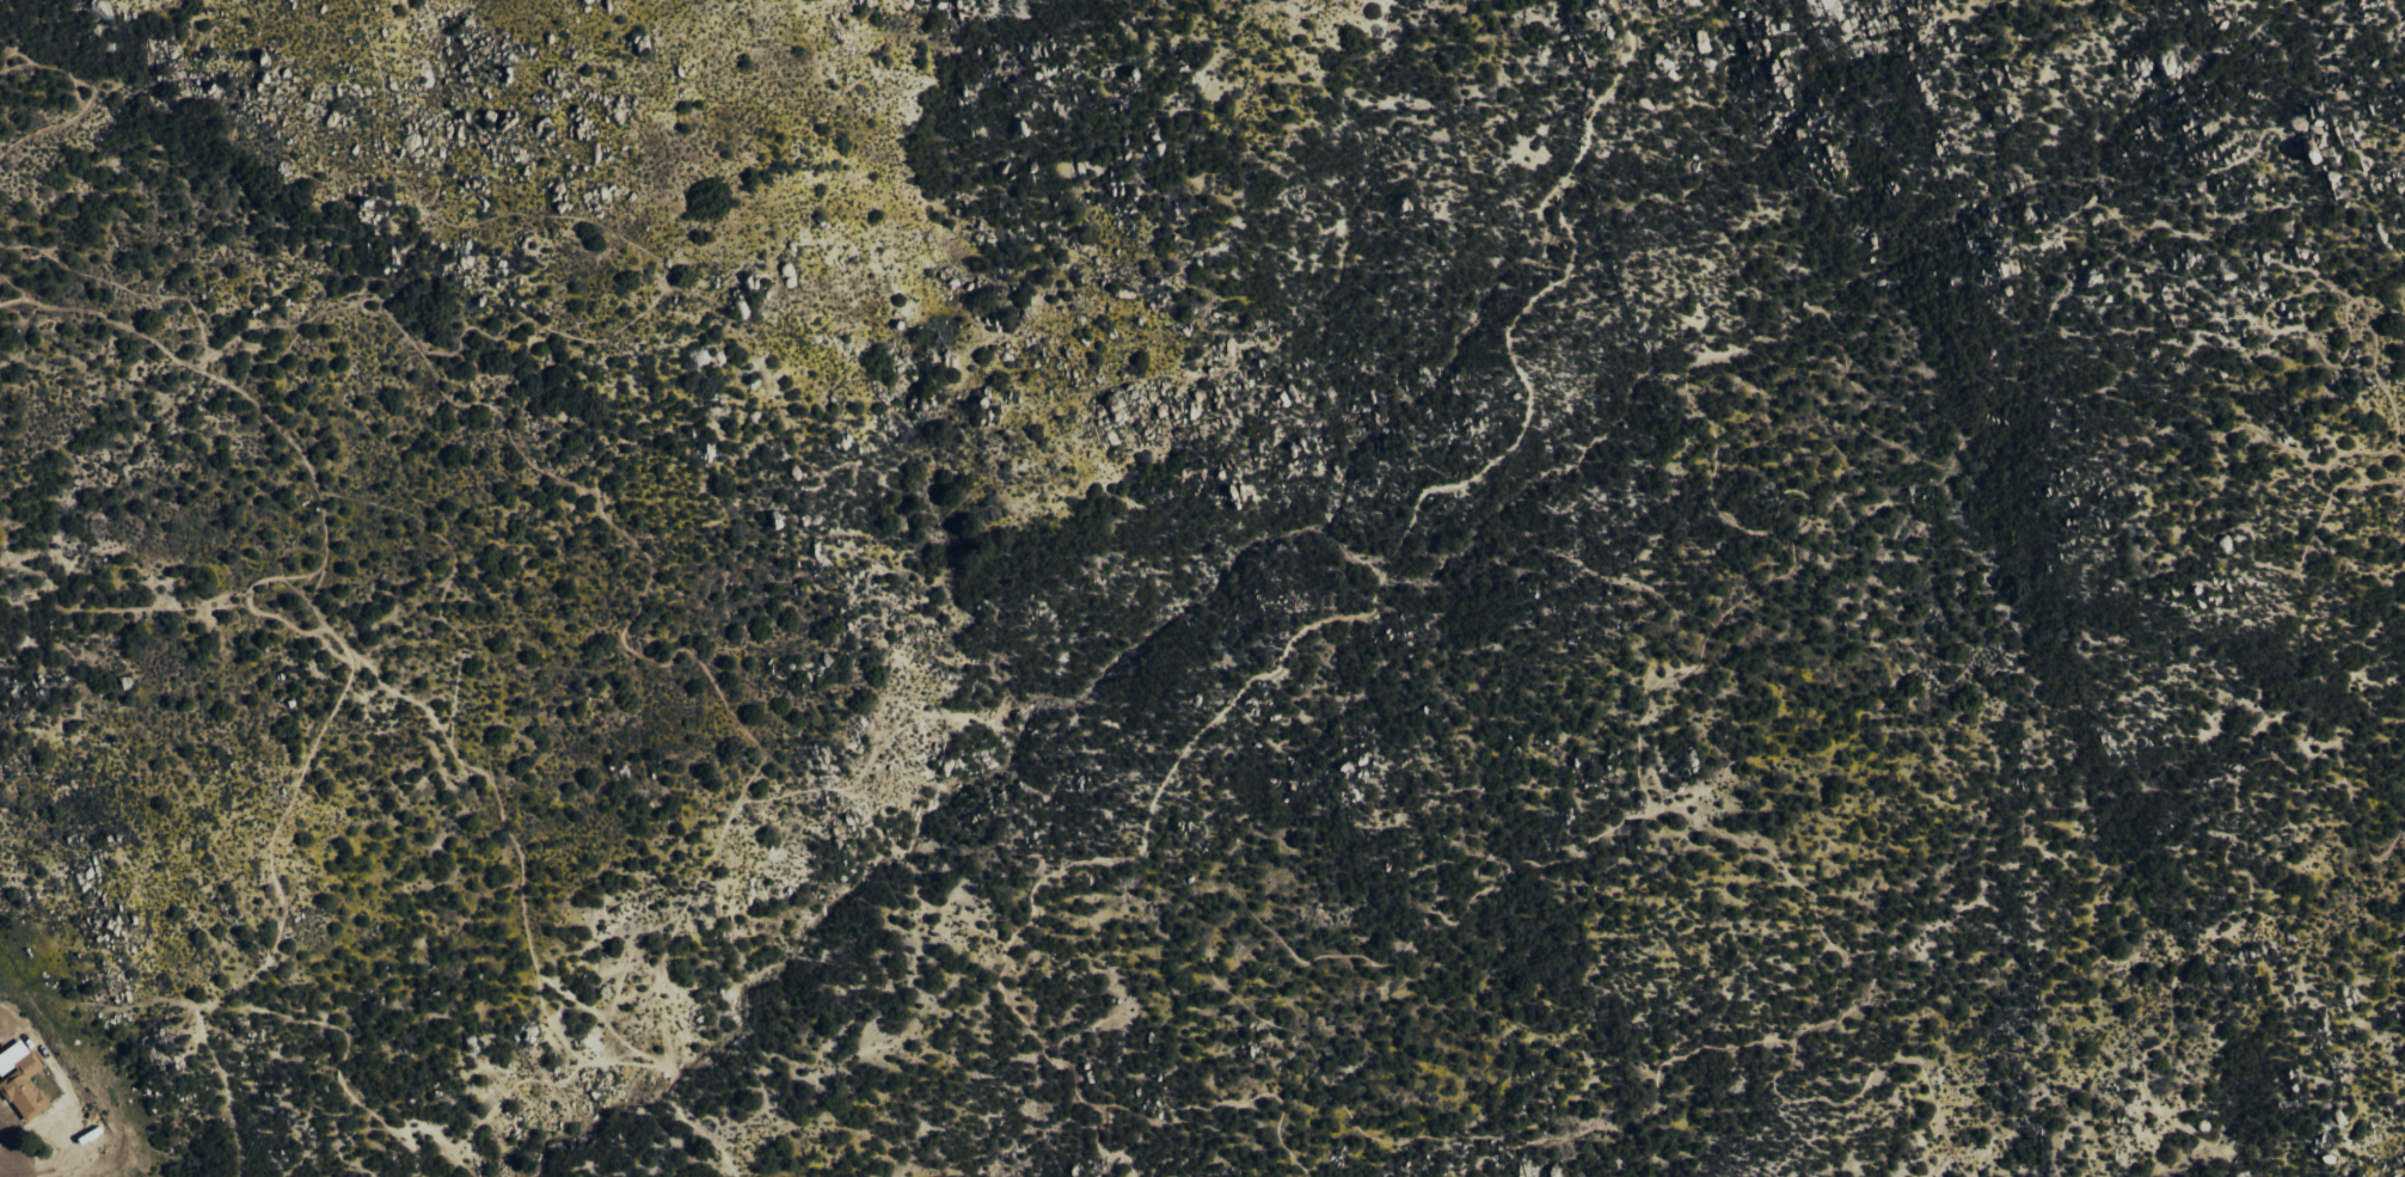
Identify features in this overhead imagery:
road: (1266, 670)
road: (2241, 868)
road: (1771, 1041)

